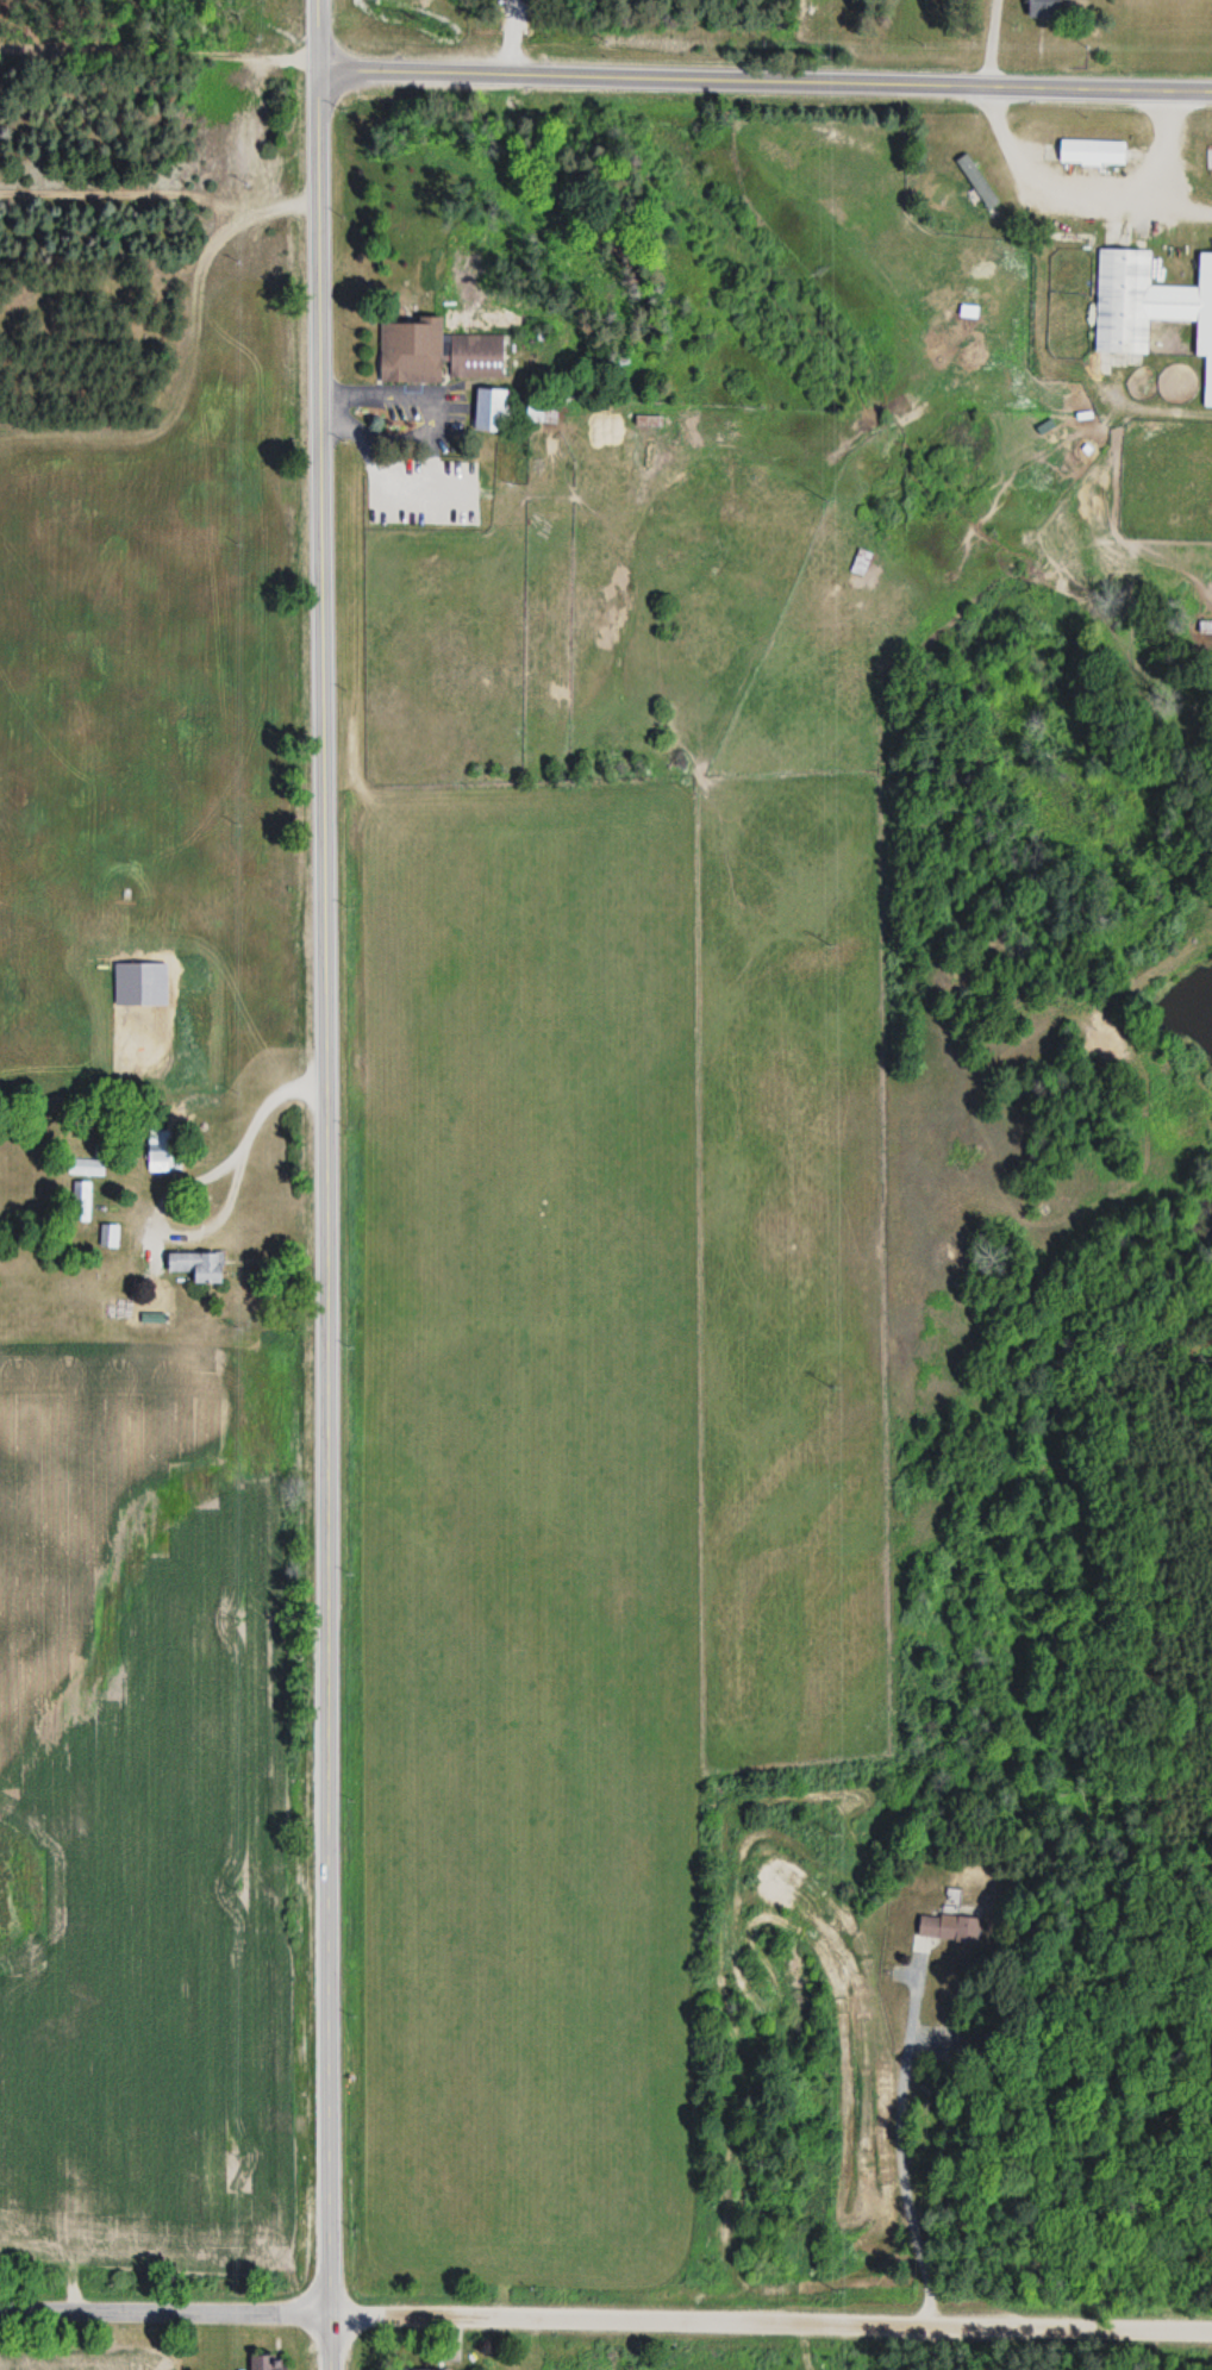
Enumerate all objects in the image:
building: (1045, 8)
road: (991, 43)
road: (764, 81)
building: (1092, 152)
building: (976, 182)
building: (1149, 306)
building: (410, 351)
building: (476, 356)
building: (492, 411)
building: (648, 421)
building: (860, 564)
building: (1205, 629)
building: (157, 1151)
road: (321, 1156)
building: (198, 1268)
building: (947, 1928)
road: (163, 2309)
road: (769, 2320)
road: (326, 2341)
building: (267, 2360)
building: (418, 2369)

